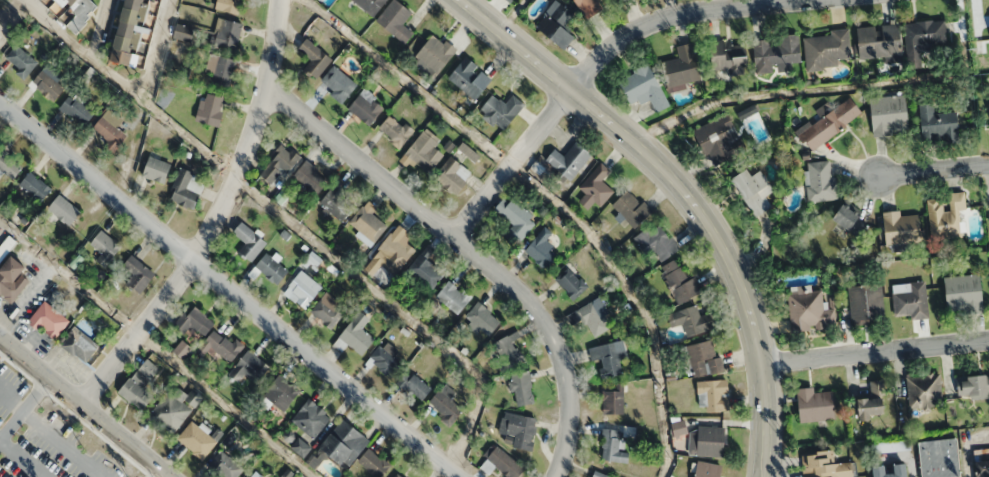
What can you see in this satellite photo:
building: (510, 0)
building: (230, 5)
building: (370, 5)
building: (589, 7)
building: (73, 10)
road: (678, 15)
building: (395, 19)
building: (557, 25)
building: (1, 27)
road: (100, 29)
building: (135, 32)
building: (184, 32)
building: (226, 33)
building: (923, 36)
building: (2, 39)
building: (879, 42)
power tower: (972, 47)
building: (826, 49)
road: (158, 51)
building: (435, 53)
building: (777, 54)
building: (313, 58)
building: (731, 58)
building: (21, 61)
building: (682, 66)
building: (222, 70)
building: (470, 77)
building: (47, 85)
building: (644, 87)
building: (365, 107)
building: (210, 108)
building: (76, 110)
building: (502, 110)
building: (889, 114)
building: (828, 122)
building: (938, 125)
building: (109, 128)
building: (396, 129)
building: (720, 140)
building: (425, 151)
building: (468, 152)
building: (569, 159)
building: (280, 162)
road: (513, 163)
building: (156, 168)
road: (930, 169)
building: (453, 174)
building: (311, 176)
building: (820, 180)
building: (597, 185)
building: (34, 186)
building: (185, 188)
building: (753, 190)
road: (686, 195)
building: (338, 202)
building: (631, 208)
building: (63, 209)
building: (945, 213)
road: (213, 218)
building: (515, 218)
building: (850, 219)
road: (288, 220)
building: (367, 223)
building: (901, 227)
road: (2, 229)
building: (249, 241)
building: (656, 241)
building: (105, 247)
road: (472, 249)
building: (542, 249)
building: (393, 252)
building: (271, 268)
building: (425, 270)
building: (138, 274)
building: (11, 279)
building: (571, 281)
building: (679, 281)
building: (302, 289)
road: (229, 290)
building: (963, 293)
building: (452, 296)
building: (909, 298)
road: (27, 299)
building: (866, 303)
building: (809, 311)
building: (326, 312)
building: (592, 317)
building: (482, 319)
building: (48, 320)
building: (691, 320)
building: (194, 321)
building: (359, 328)
building: (79, 344)
building: (224, 345)
road: (156, 348)
building: (182, 349)
road: (874, 349)
building: (508, 350)
building: (608, 357)
building: (704, 358)
building: (384, 361)
building: (248, 367)
building: (414, 384)
building: (139, 385)
building: (973, 385)
building: (522, 387)
building: (924, 390)
building: (281, 392)
building: (713, 395)
building: (873, 402)
building: (446, 403)
building: (815, 404)
road: (24, 406)
road: (83, 407)
building: (174, 408)
building: (310, 418)
building: (679, 427)
building: (519, 428)
building: (196, 440)
building: (709, 440)
building: (344, 443)
building: (612, 446)
building: (939, 458)
building: (373, 462)
building: (503, 462)
building: (225, 465)
building: (827, 465)
building: (982, 468)
building: (708, 470)
building: (891, 470)
road: (158, 474)
building: (600, 474)
building: (250, 475)
building: (399, 475)

